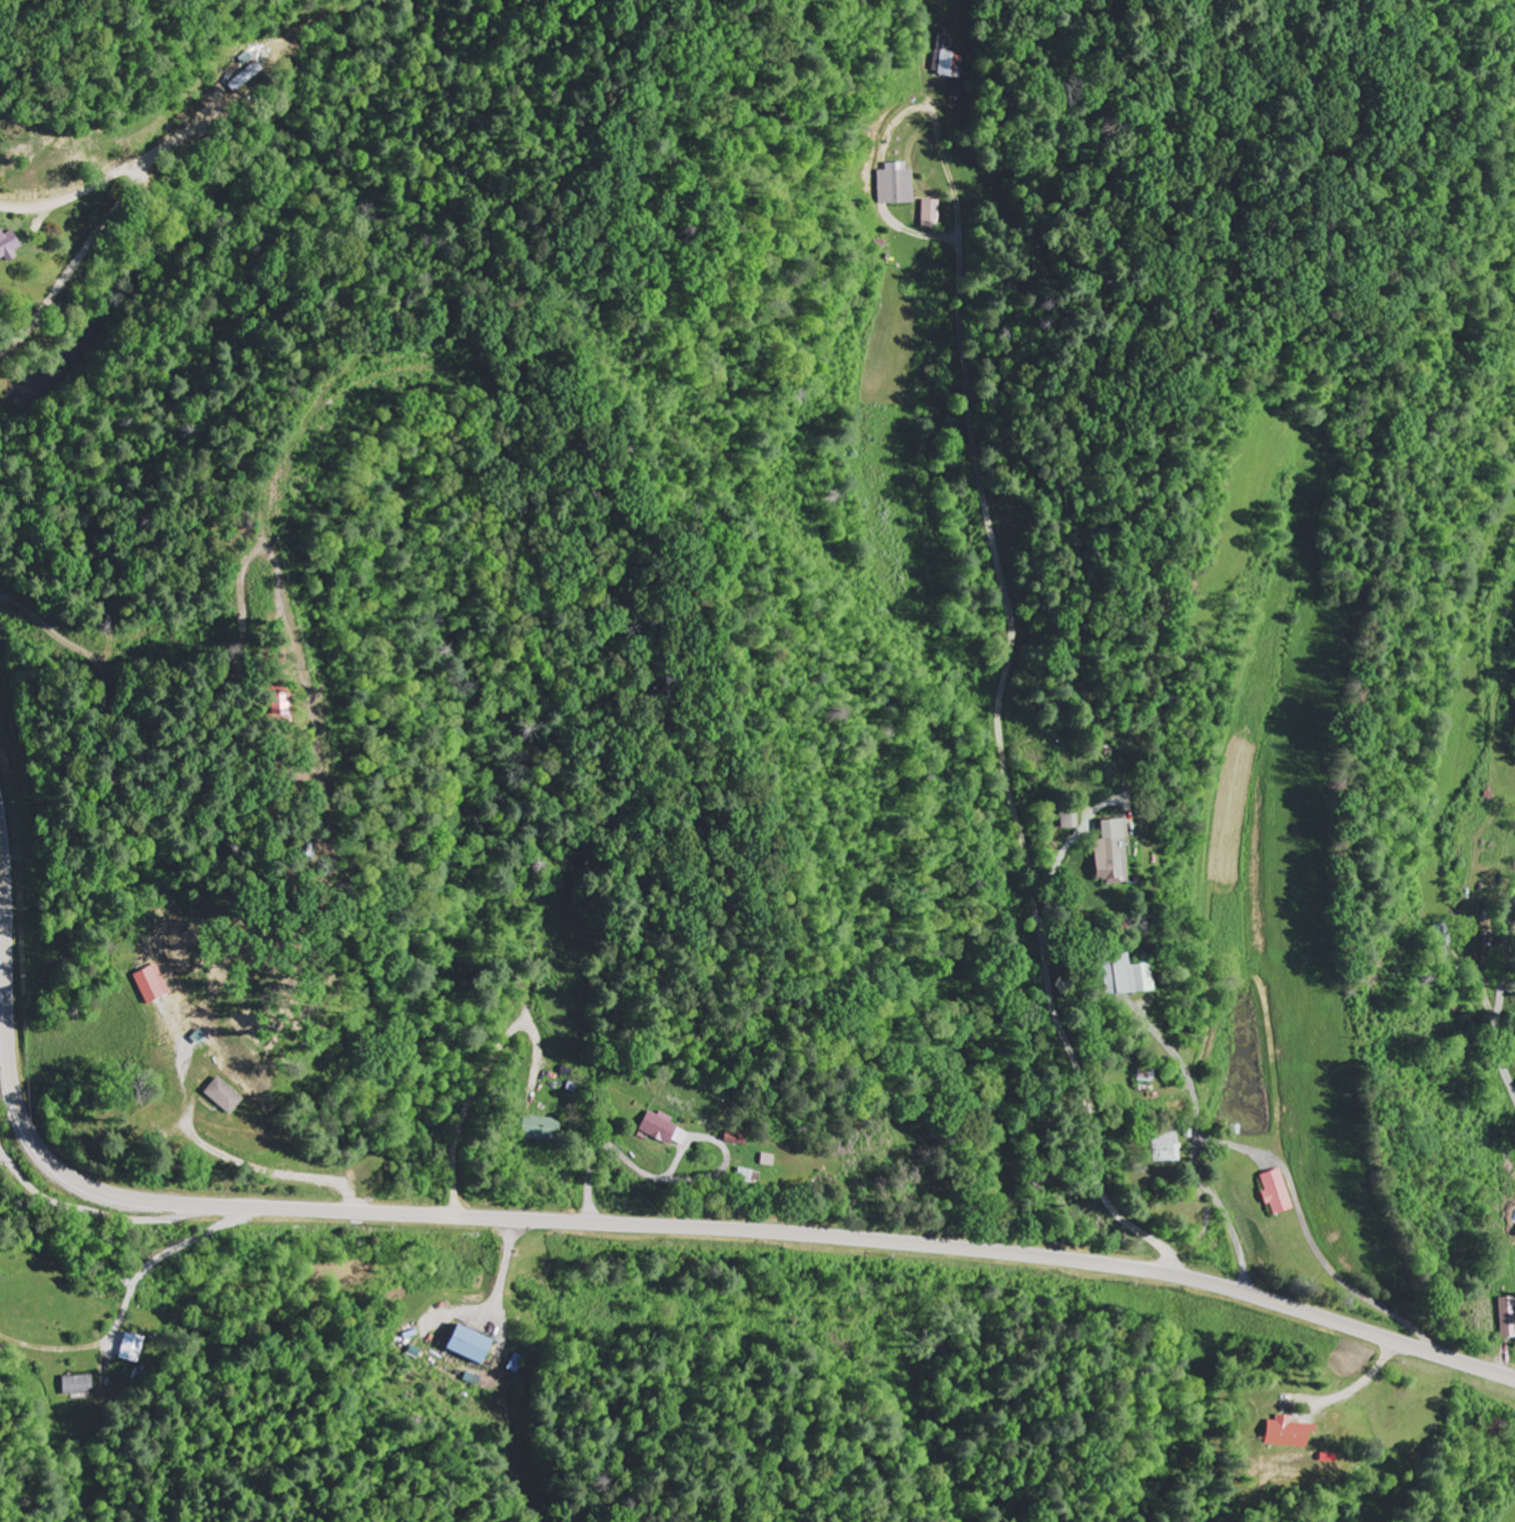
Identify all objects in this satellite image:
building: (950, 58)
building: (245, 78)
building: (898, 186)
building: (932, 215)
building: (9, 247)
building: (1112, 854)
building: (1133, 975)
building: (152, 985)
road: (1501, 997)
road: (1071, 1055)
building: (224, 1096)
building: (659, 1128)
building: (540, 1129)
building: (737, 1139)
building: (1167, 1150)
building: (1276, 1193)
road: (98, 1214)
road: (628, 1224)
road: (127, 1303)
building: (1508, 1318)
building: (471, 1345)
building: (133, 1349)
building: (79, 1385)
building: (1289, 1434)

